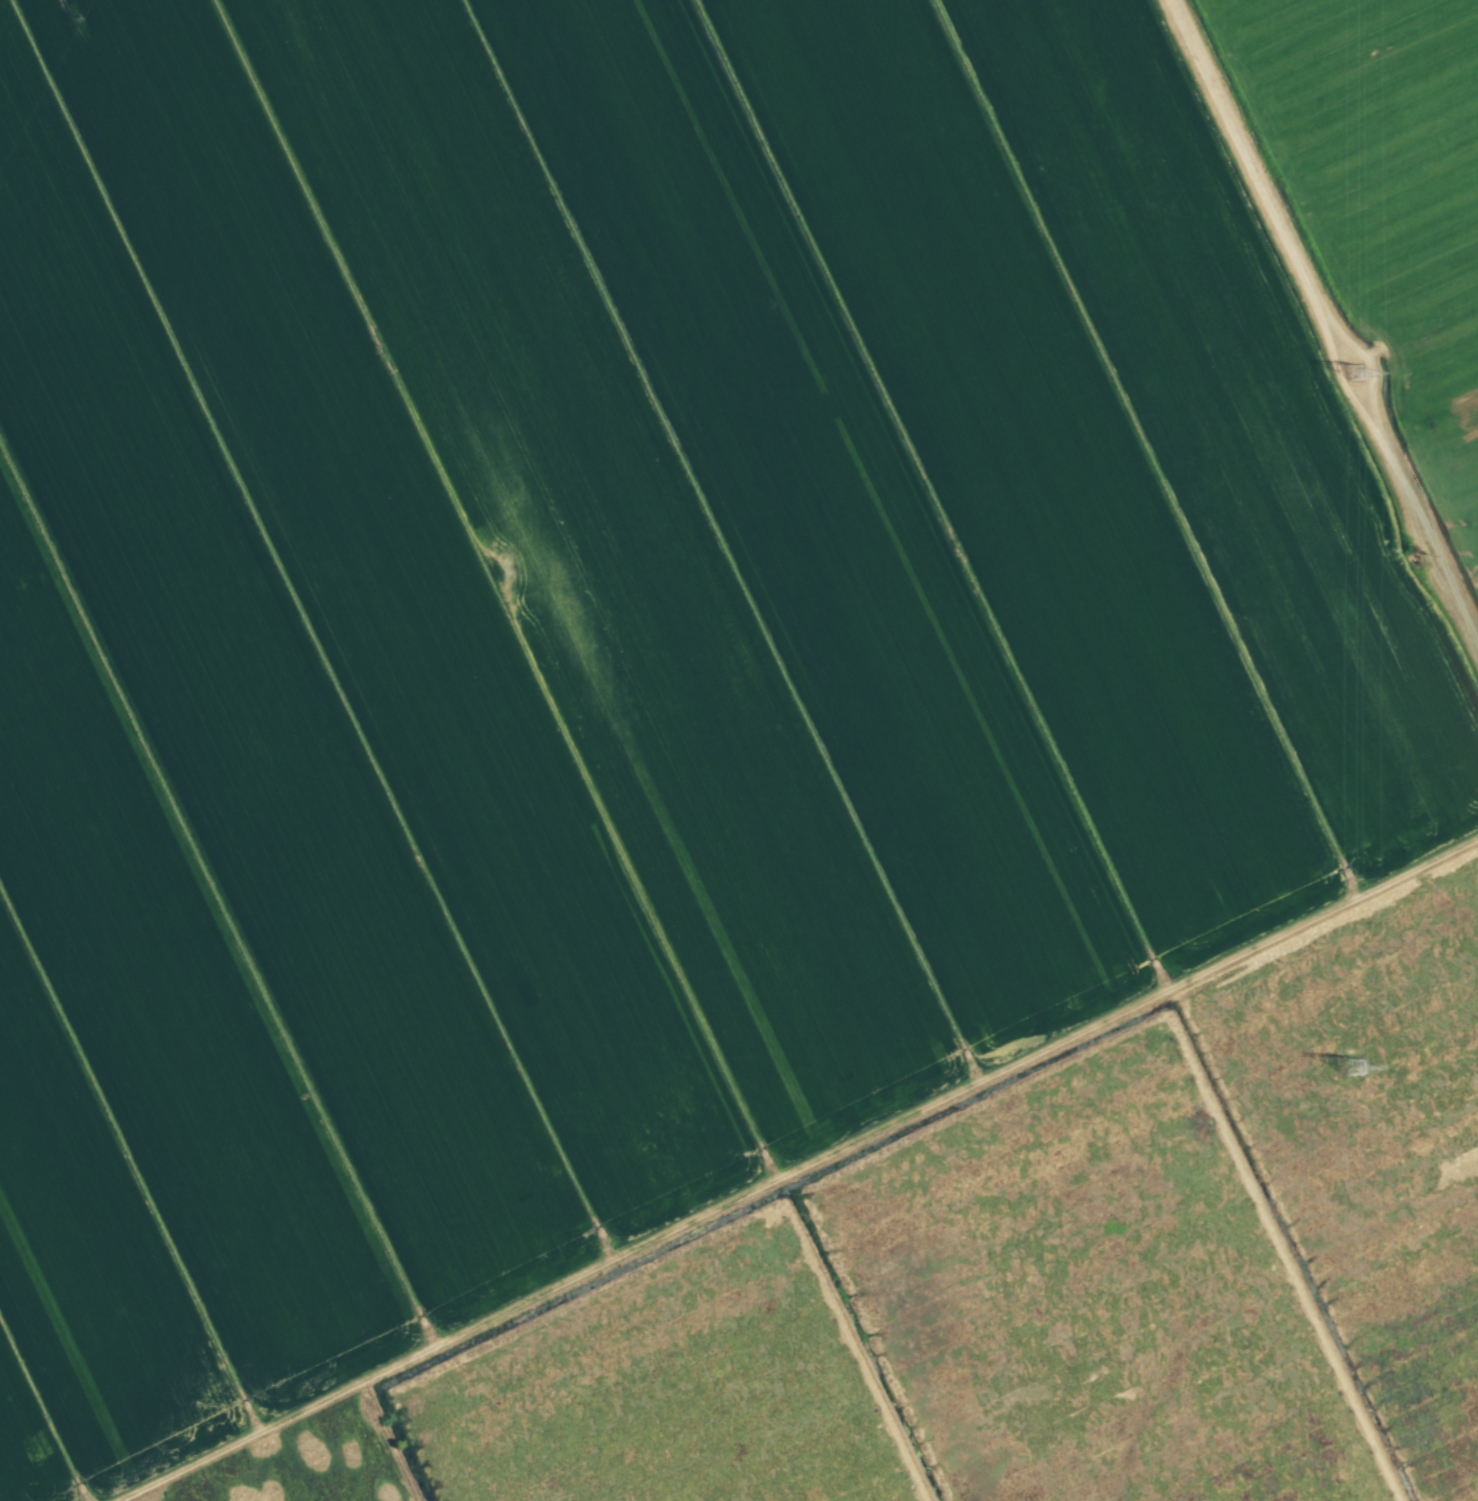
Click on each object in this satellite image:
power tower: (1355, 374)
power tower: (1352, 1068)

